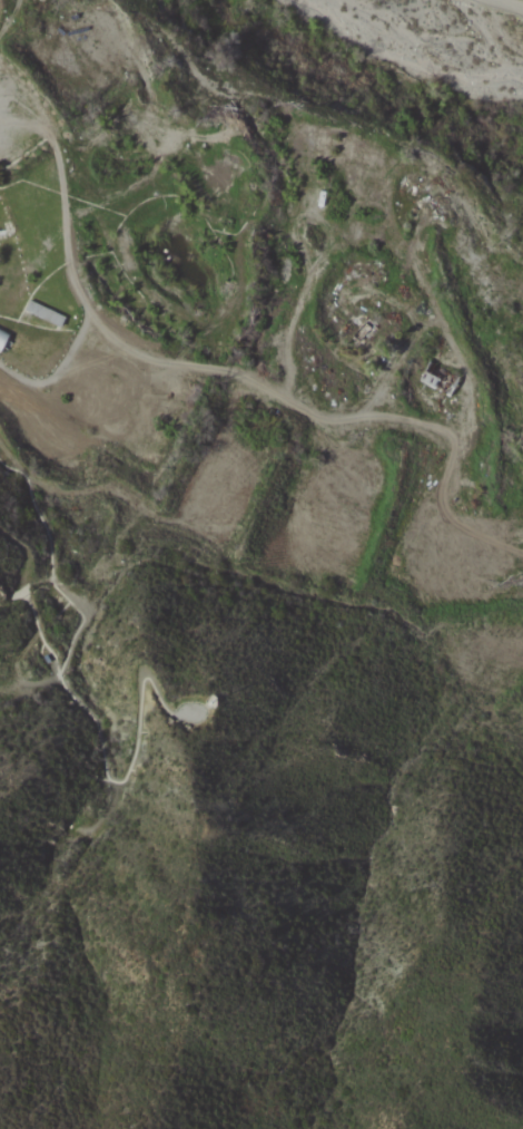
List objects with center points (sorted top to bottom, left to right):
road: (511, 3)
building: (43, 313)
building: (2, 335)
road: (172, 360)
road: (71, 697)

